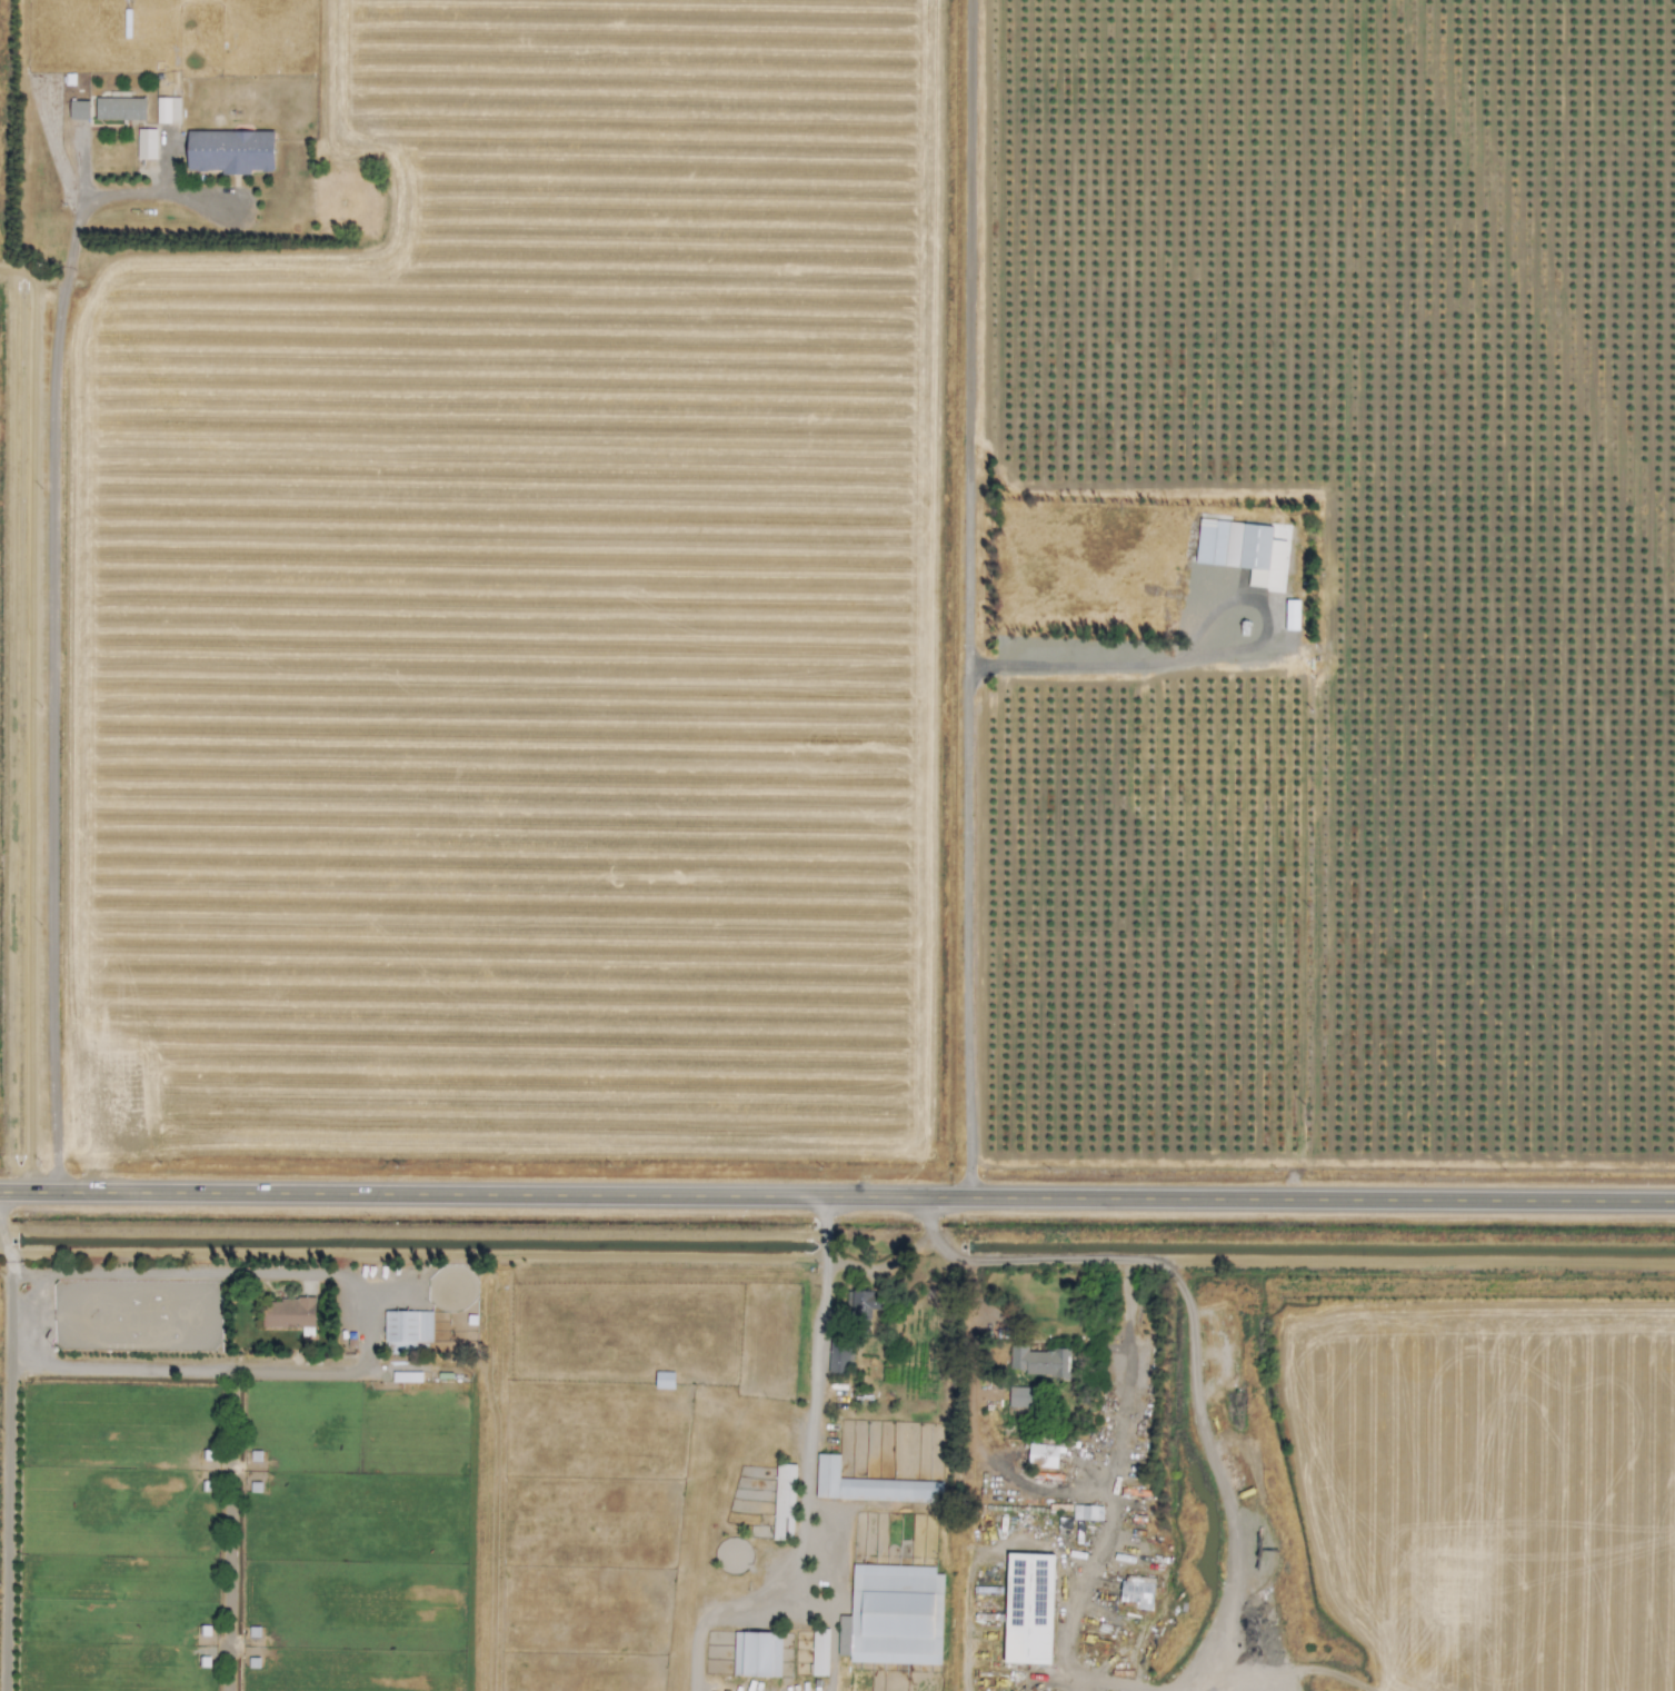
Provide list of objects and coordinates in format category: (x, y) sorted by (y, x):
building: (119, 109)
building: (78, 110)
building: (167, 110)
building: (146, 143)
building: (229, 151)
road: (966, 334)
building: (1242, 550)
building: (1290, 615)
road: (52, 626)
road: (966, 703)
road: (837, 1193)
road: (1414, 1261)
road: (884, 1267)
road: (222, 1273)
building: (861, 1307)
building: (287, 1313)
building: (406, 1331)
building: (840, 1356)
building: (1036, 1362)
road: (190, 1370)
building: (664, 1380)
building: (1023, 1399)
road: (1114, 1403)
road: (6, 1439)
building: (1041, 1455)
road: (807, 1474)
building: (869, 1485)
building: (784, 1502)
building: (1086, 1512)
road: (231, 1531)
building: (1135, 1594)
building: (1027, 1609)
road: (1197, 1609)
building: (893, 1615)
building: (819, 1652)
building: (755, 1654)
road: (1282, 1654)

